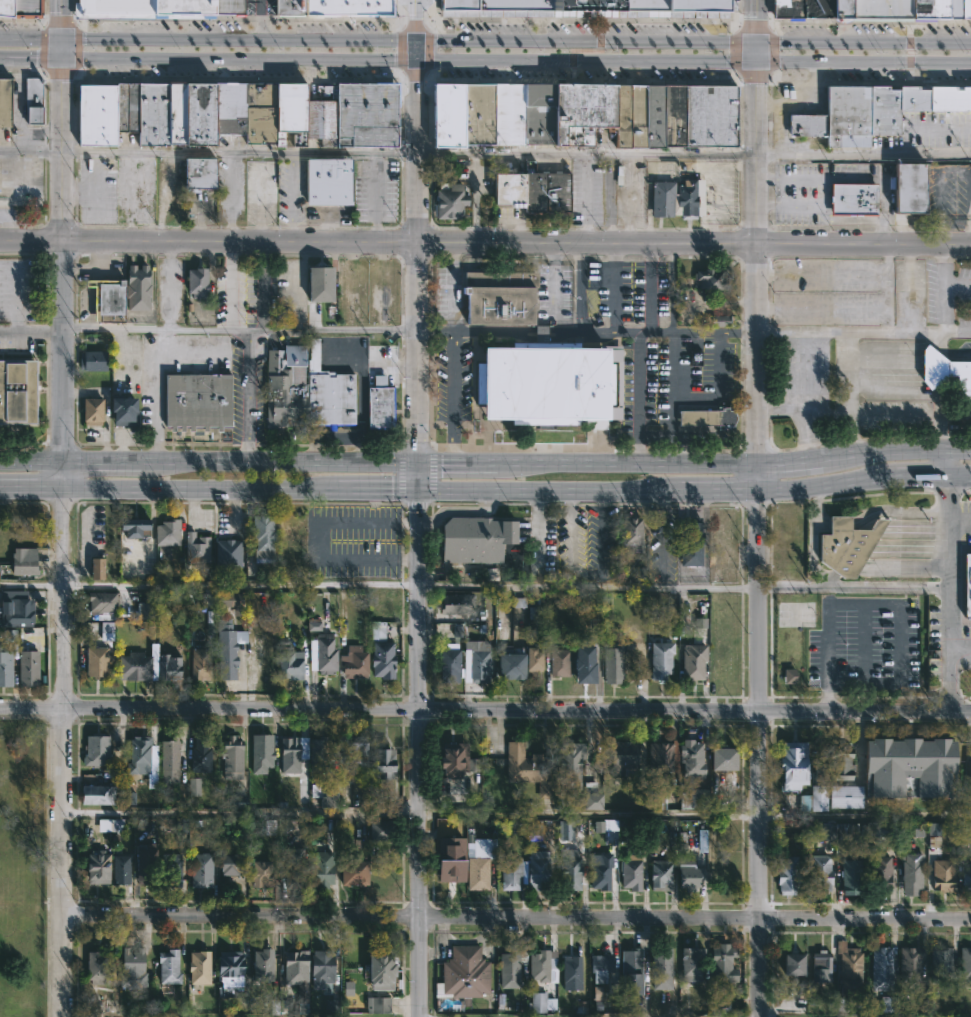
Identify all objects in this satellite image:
building: (494, 5)
building: (584, 5)
building: (673, 5)
building: (222, 7)
building: (238, 7)
building: (289, 7)
building: (334, 7)
building: (4, 8)
building: (144, 8)
building: (370, 8)
building: (383, 8)
building: (26, 9)
building: (786, 9)
building: (817, 9)
building: (841, 9)
building: (881, 9)
building: (923, 9)
building: (941, 9)
building: (954, 9)
building: (965, 9)
road: (239, 18)
road: (588, 19)
road: (61, 20)
road: (259, 20)
road: (415, 21)
road: (857, 22)
road: (774, 23)
road: (731, 24)
road: (414, 25)
road: (753, 26)
road: (30, 40)
traffic signals: (61, 41)
road: (238, 41)
traffic signals: (415, 42)
road: (500, 42)
traffic signals: (756, 43)
road: (778, 43)
road: (60, 49)
road: (401, 49)
road: (428, 49)
road: (771, 49)
road: (586, 50)
road: (415, 51)
road: (734, 51)
road: (909, 52)
road: (29, 58)
traffic signals: (59, 58)
road: (237, 58)
traffic signals: (415, 60)
road: (501, 60)
traffic signals: (756, 62)
road: (779, 62)
road: (42, 72)
road: (414, 74)
road: (752, 75)
road: (238, 79)
road: (581, 80)
road: (866, 82)
building: (949, 98)
building: (913, 99)
building: (32, 101)
building: (4, 102)
building: (120, 107)
building: (131, 107)
building: (228, 109)
building: (863, 109)
building: (876, 110)
building: (890, 110)
building: (581, 112)
building: (161, 113)
building: (259, 113)
building: (290, 113)
building: (142, 114)
building: (152, 114)
building: (174, 114)
building: (198, 114)
building: (478, 114)
building: (508, 114)
building: (538, 114)
building: (95, 115)
building: (321, 115)
building: (365, 115)
building: (448, 115)
building: (673, 115)
building: (710, 115)
building: (622, 116)
building: (637, 116)
building: (654, 117)
building: (843, 117)
building: (804, 125)
road: (29, 149)
road: (237, 153)
road: (585, 153)
road: (863, 157)
building: (200, 173)
road: (790, 178)
building: (327, 181)
road: (882, 183)
building: (908, 188)
building: (533, 191)
road: (59, 192)
road: (825, 192)
building: (686, 197)
road: (291, 198)
road: (583, 198)
road: (629, 199)
building: (661, 199)
building: (852, 199)
building: (14, 201)
building: (449, 202)
road: (790, 205)
road: (756, 222)
road: (847, 222)
road: (9, 225)
road: (485, 243)
road: (416, 262)
building: (712, 279)
building: (195, 283)
building: (318, 284)
road: (170, 285)
road: (957, 285)
road: (229, 286)
road: (578, 287)
building: (136, 288)
road: (613, 288)
road: (648, 288)
road: (671, 288)
road: (908, 288)
parking lot: (827, 292)
building: (498, 297)
building: (105, 298)
road: (942, 303)
road: (296, 311)
building: (719, 321)
road: (149, 328)
road: (359, 329)
road: (533, 329)
road: (436, 330)
road: (29, 331)
road: (630, 331)
road: (659, 331)
road: (713, 331)
road: (848, 332)
road: (406, 351)
road: (945, 354)
building: (695, 358)
building: (91, 360)
road: (360, 367)
building: (946, 372)
road: (453, 378)
road: (671, 382)
building: (542, 385)
road: (720, 387)
building: (284, 388)
building: (16, 391)
road: (155, 393)
road: (805, 393)
road: (246, 394)
building: (327, 394)
road: (59, 395)
road: (848, 395)
road: (920, 395)
road: (637, 398)
building: (197, 400)
building: (380, 404)
building: (90, 411)
building: (123, 411)
road: (956, 412)
road: (806, 413)
building: (706, 417)
road: (653, 432)
road: (676, 437)
road: (359, 442)
road: (452, 445)
road: (897, 452)
road: (956, 452)
road: (680, 454)
road: (805, 462)
road: (942, 463)
road: (29, 465)
road: (107, 465)
road: (286, 465)
traffic signals: (418, 465)
road: (460, 465)
road: (570, 465)
road: (697, 465)
road: (757, 465)
road: (957, 475)
road: (919, 476)
road: (60, 477)
road: (418, 477)
road: (826, 485)
road: (30, 487)
road: (717, 487)
road: (547, 488)
road: (199, 489)
road: (377, 489)
traffic signals: (418, 489)
road: (943, 497)
road: (895, 510)
road: (839, 524)
road: (821, 526)
building: (134, 527)
road: (600, 531)
building: (166, 532)
road: (572, 532)
building: (631, 534)
building: (262, 537)
road: (812, 537)
road: (319, 539)
building: (474, 539)
parking lot: (362, 540)
building: (690, 544)
building: (846, 546)
building: (195, 548)
building: (228, 553)
building: (22, 562)
building: (96, 569)
road: (32, 581)
road: (851, 584)
road: (588, 585)
building: (968, 585)
road: (241, 586)
building: (228, 600)
road: (944, 601)
building: (102, 602)
road: (884, 604)
building: (454, 605)
building: (385, 606)
building: (15, 609)
building: (145, 610)
building: (534, 613)
building: (313, 626)
building: (106, 631)
building: (377, 631)
building: (9, 636)
building: (25, 639)
parking lot: (861, 643)
road: (957, 649)
building: (227, 650)
building: (321, 655)
building: (381, 660)
building: (534, 661)
building: (661, 661)
building: (199, 662)
building: (693, 662)
building: (97, 663)
building: (353, 663)
building: (559, 663)
building: (613, 663)
building: (135, 665)
building: (448, 666)
building: (478, 666)
building: (289, 667)
building: (510, 667)
building: (167, 668)
building: (585, 668)
building: (27, 669)
building: (5, 670)
building: (789, 676)
road: (485, 711)
building: (97, 749)
building: (138, 751)
road: (760, 751)
road: (62, 752)
building: (259, 752)
road: (420, 752)
building: (200, 753)
building: (292, 753)
building: (661, 754)
building: (318, 755)
building: (352, 755)
building: (232, 756)
building: (624, 757)
building: (693, 757)
building: (725, 757)
building: (453, 758)
building: (169, 760)
building: (382, 761)
building: (794, 763)
building: (841, 763)
building: (911, 764)
building: (569, 765)
building: (528, 769)
building: (970, 775)
building: (193, 787)
building: (96, 793)
building: (691, 796)
building: (845, 797)
building: (327, 798)
building: (815, 798)
building: (592, 801)
road: (590, 813)
road: (242, 814)
road: (865, 816)
building: (109, 824)
building: (180, 824)
building: (608, 825)
building: (383, 828)
building: (535, 829)
building: (884, 829)
building: (935, 829)
building: (821, 831)
building: (566, 832)
building: (701, 840)
building: (478, 861)
building: (144, 863)
building: (231, 864)
building: (291, 865)
building: (95, 866)
building: (538, 867)
building: (119, 868)
building: (322, 868)
building: (446, 868)
building: (201, 869)
building: (170, 870)
building: (600, 870)
building: (879, 870)
building: (569, 871)
building: (629, 871)
building: (352, 872)
building: (687, 872)
building: (911, 872)
building: (260, 873)
building: (511, 873)
building: (850, 873)
building: (660, 874)
building: (819, 874)
building: (943, 874)
building: (786, 875)
building: (967, 878)
road: (516, 920)
building: (822, 959)
building: (721, 963)
building: (794, 963)
building: (910, 963)
building: (940, 963)
building: (260, 964)
building: (965, 964)
building: (690, 965)
building: (168, 966)
building: (197, 966)
building: (540, 966)
building: (600, 966)
building: (94, 967)
building: (322, 967)
building: (511, 967)
building: (131, 968)
building: (381, 968)
building: (660, 968)
building: (880, 968)
building: (850, 969)
building: (629, 970)
building: (572, 971)
building: (230, 974)
building: (462, 974)
building: (296, 975)
building: (720, 1000)
building: (541, 1002)
building: (378, 1004)
building: (843, 1004)
building: (888, 1004)

